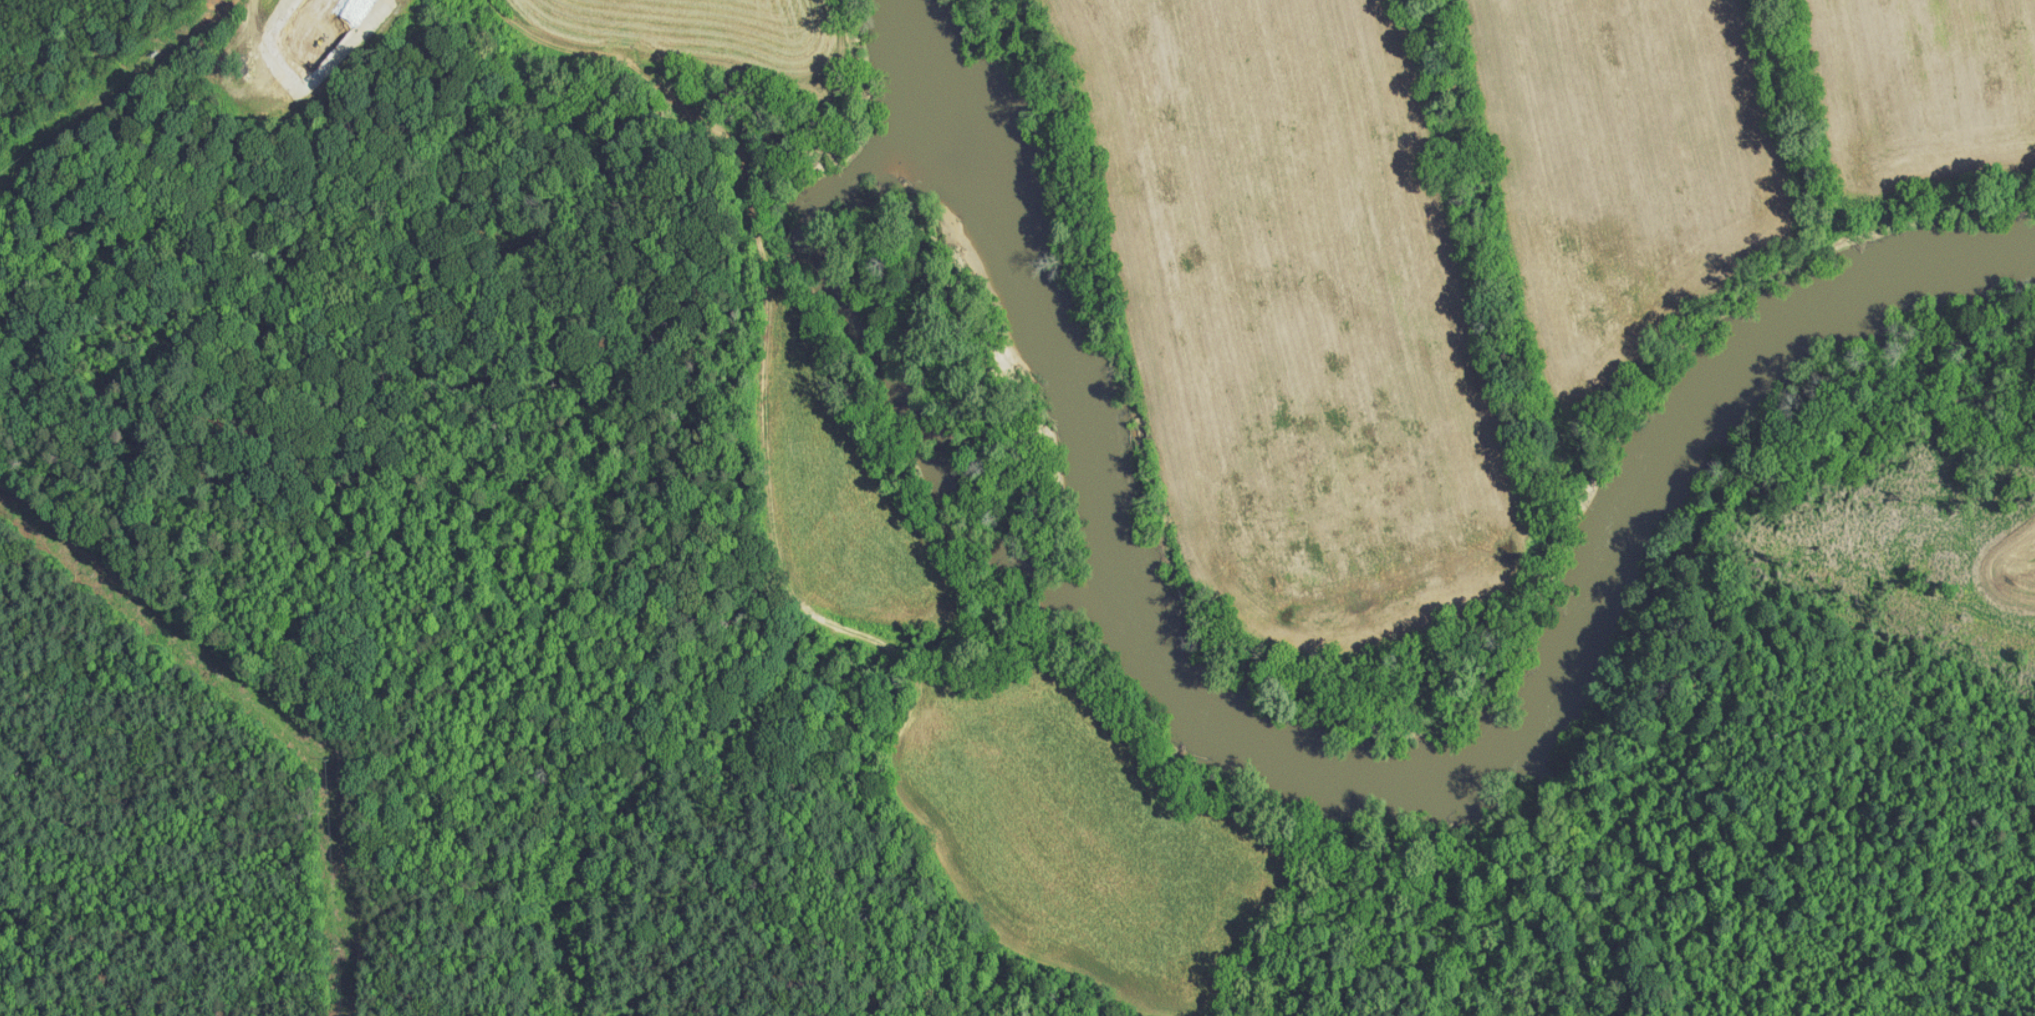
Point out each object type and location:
river: (1354, 769)

